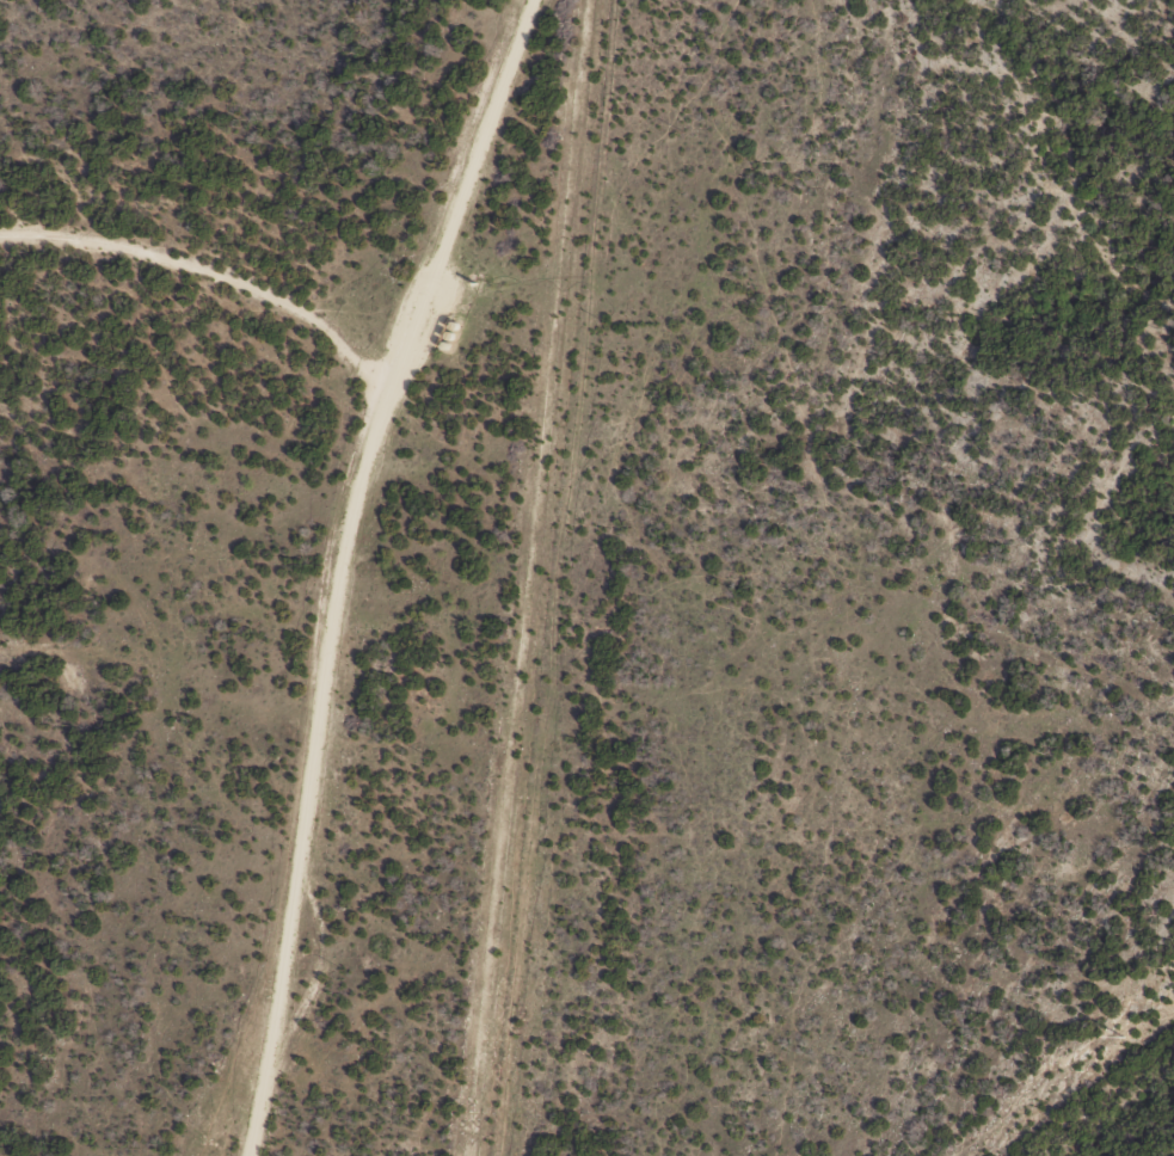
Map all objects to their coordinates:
road: (316, 337)
road: (355, 564)
power tower: (1121, 1037)

